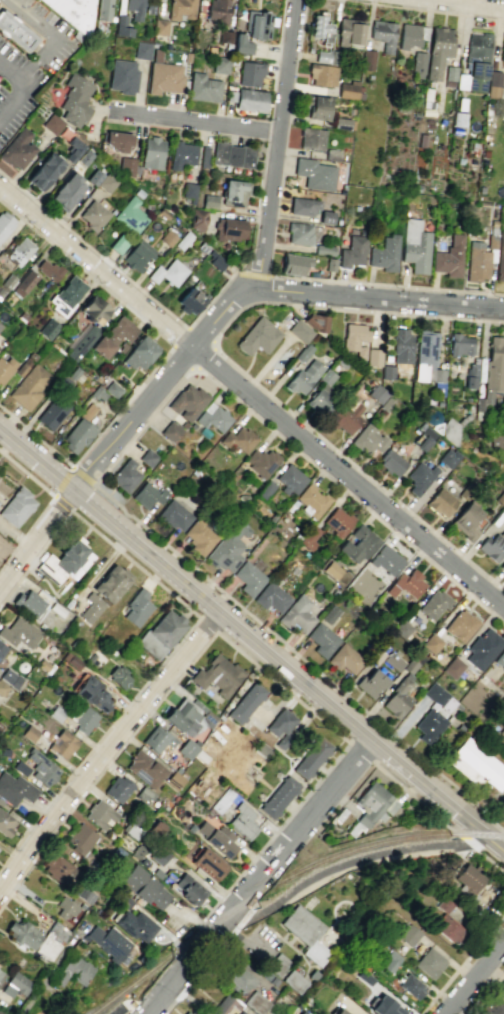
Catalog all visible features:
road: (474, 3)
building: (134, 8)
building: (180, 9)
road: (428, 9)
building: (102, 10)
building: (217, 11)
building: (73, 12)
building: (258, 24)
building: (318, 25)
building: (122, 27)
building: (159, 27)
building: (15, 32)
building: (349, 32)
building: (383, 34)
road: (53, 35)
building: (412, 35)
building: (224, 36)
parking lot: (56, 44)
building: (240, 44)
road: (277, 44)
building: (478, 45)
building: (142, 50)
building: (502, 50)
building: (438, 51)
building: (156, 55)
building: (322, 57)
building: (367, 60)
building: (220, 64)
building: (418, 64)
road: (14, 73)
building: (248, 73)
building: (322, 74)
building: (121, 77)
building: (163, 78)
building: (472, 78)
building: (493, 84)
building: (203, 88)
building: (347, 91)
building: (75, 99)
building: (250, 100)
road: (14, 102)
building: (316, 107)
road: (193, 121)
building: (51, 124)
building: (311, 138)
building: (115, 141)
road: (275, 145)
building: (16, 149)
building: (72, 149)
building: (151, 153)
building: (181, 154)
building: (233, 155)
building: (83, 157)
building: (126, 166)
building: (44, 171)
building: (314, 174)
building: (93, 178)
building: (106, 183)
building: (189, 190)
building: (66, 191)
building: (234, 191)
building: (209, 201)
building: (303, 206)
building: (93, 215)
building: (131, 215)
building: (197, 219)
building: (5, 224)
building: (229, 229)
building: (299, 233)
building: (119, 243)
building: (415, 246)
road: (93, 248)
building: (324, 249)
building: (20, 251)
building: (352, 251)
road: (270, 254)
building: (384, 254)
building: (138, 256)
building: (449, 257)
building: (500, 257)
building: (477, 261)
building: (216, 262)
building: (294, 264)
road: (95, 266)
building: (48, 269)
building: (168, 273)
road: (264, 274)
building: (6, 282)
building: (23, 283)
building: (66, 295)
road: (375, 296)
road: (210, 298)
building: (189, 301)
building: (94, 309)
road: (350, 309)
building: (314, 321)
road: (147, 323)
building: (0, 326)
building: (48, 329)
building: (120, 330)
building: (300, 331)
road: (180, 336)
building: (258, 336)
building: (355, 339)
building: (82, 342)
road: (213, 344)
building: (460, 344)
building: (401, 346)
building: (101, 347)
building: (140, 353)
road: (205, 357)
building: (373, 357)
building: (426, 357)
road: (193, 367)
building: (5, 369)
building: (303, 377)
road: (158, 386)
building: (28, 387)
building: (112, 389)
building: (321, 393)
building: (376, 393)
building: (187, 402)
building: (87, 411)
building: (52, 413)
building: (213, 417)
building: (346, 417)
road: (142, 426)
building: (171, 431)
building: (449, 431)
building: (77, 436)
road: (36, 438)
building: (237, 439)
building: (368, 439)
building: (495, 442)
building: (146, 457)
building: (447, 457)
road: (36, 460)
building: (261, 462)
building: (391, 463)
road: (358, 469)
road: (25, 472)
building: (125, 476)
road: (347, 477)
building: (419, 477)
building: (290, 479)
road: (62, 480)
building: (147, 495)
road: (350, 495)
building: (311, 500)
building: (441, 502)
building: (16, 507)
building: (503, 509)
building: (174, 515)
building: (468, 521)
building: (337, 522)
road: (27, 531)
building: (199, 537)
road: (35, 538)
building: (309, 538)
building: (358, 544)
building: (492, 546)
building: (229, 547)
road: (35, 559)
building: (386, 560)
building: (64, 563)
road: (135, 564)
building: (502, 565)
building: (331, 570)
building: (248, 578)
building: (112, 583)
building: (406, 584)
building: (271, 597)
building: (27, 603)
building: (434, 604)
building: (91, 607)
building: (136, 607)
building: (296, 615)
road: (207, 624)
building: (460, 625)
building: (167, 628)
building: (401, 628)
building: (18, 633)
building: (322, 639)
building: (431, 643)
building: (483, 648)
building: (2, 649)
road: (298, 655)
building: (345, 659)
building: (500, 659)
building: (71, 660)
building: (393, 661)
building: (45, 666)
road: (281, 667)
building: (452, 667)
building: (119, 676)
building: (218, 676)
building: (10, 678)
building: (370, 683)
road: (283, 686)
building: (2, 688)
building: (91, 693)
building: (398, 697)
building: (439, 697)
building: (246, 703)
building: (55, 713)
building: (188, 716)
building: (84, 720)
building: (429, 725)
building: (282, 726)
building: (29, 733)
building: (157, 739)
road: (97, 740)
building: (62, 744)
building: (186, 749)
building: (260, 749)
road: (106, 751)
building: (3, 752)
road: (364, 753)
building: (311, 758)
building: (476, 765)
road: (104, 766)
building: (20, 768)
building: (42, 768)
building: (144, 768)
building: (15, 789)
building: (118, 789)
building: (144, 794)
building: (278, 797)
building: (371, 807)
building: (99, 814)
road: (441, 820)
building: (243, 821)
building: (5, 824)
road: (302, 826)
road: (276, 827)
building: (133, 828)
building: (156, 829)
building: (80, 839)
building: (216, 839)
road: (486, 845)
road: (498, 845)
building: (136, 851)
building: (158, 854)
building: (142, 862)
road: (347, 862)
building: (206, 863)
building: (57, 868)
building: (156, 873)
building: (469, 876)
railway: (280, 880)
building: (143, 887)
building: (190, 889)
building: (82, 894)
building: (67, 907)
road: (247, 912)
road: (239, 913)
building: (444, 922)
building: (133, 924)
building: (305, 933)
building: (23, 934)
building: (408, 934)
parking lot: (265, 936)
building: (51, 941)
building: (109, 942)
road: (219, 943)
building: (390, 960)
road: (191, 962)
building: (428, 962)
road: (462, 964)
building: (276, 965)
building: (72, 970)
road: (48, 974)
building: (1, 975)
road: (473, 976)
building: (237, 977)
building: (364, 977)
building: (293, 981)
road: (490, 983)
building: (15, 984)
building: (501, 985)
building: (410, 986)
road: (181, 991)
building: (255, 1003)
building: (225, 1005)
road: (119, 1006)
building: (383, 1006)
building: (489, 1006)
road: (138, 1009)
building: (339, 1011)
building: (302, 1012)
building: (0, 1013)
building: (186, 1013)

